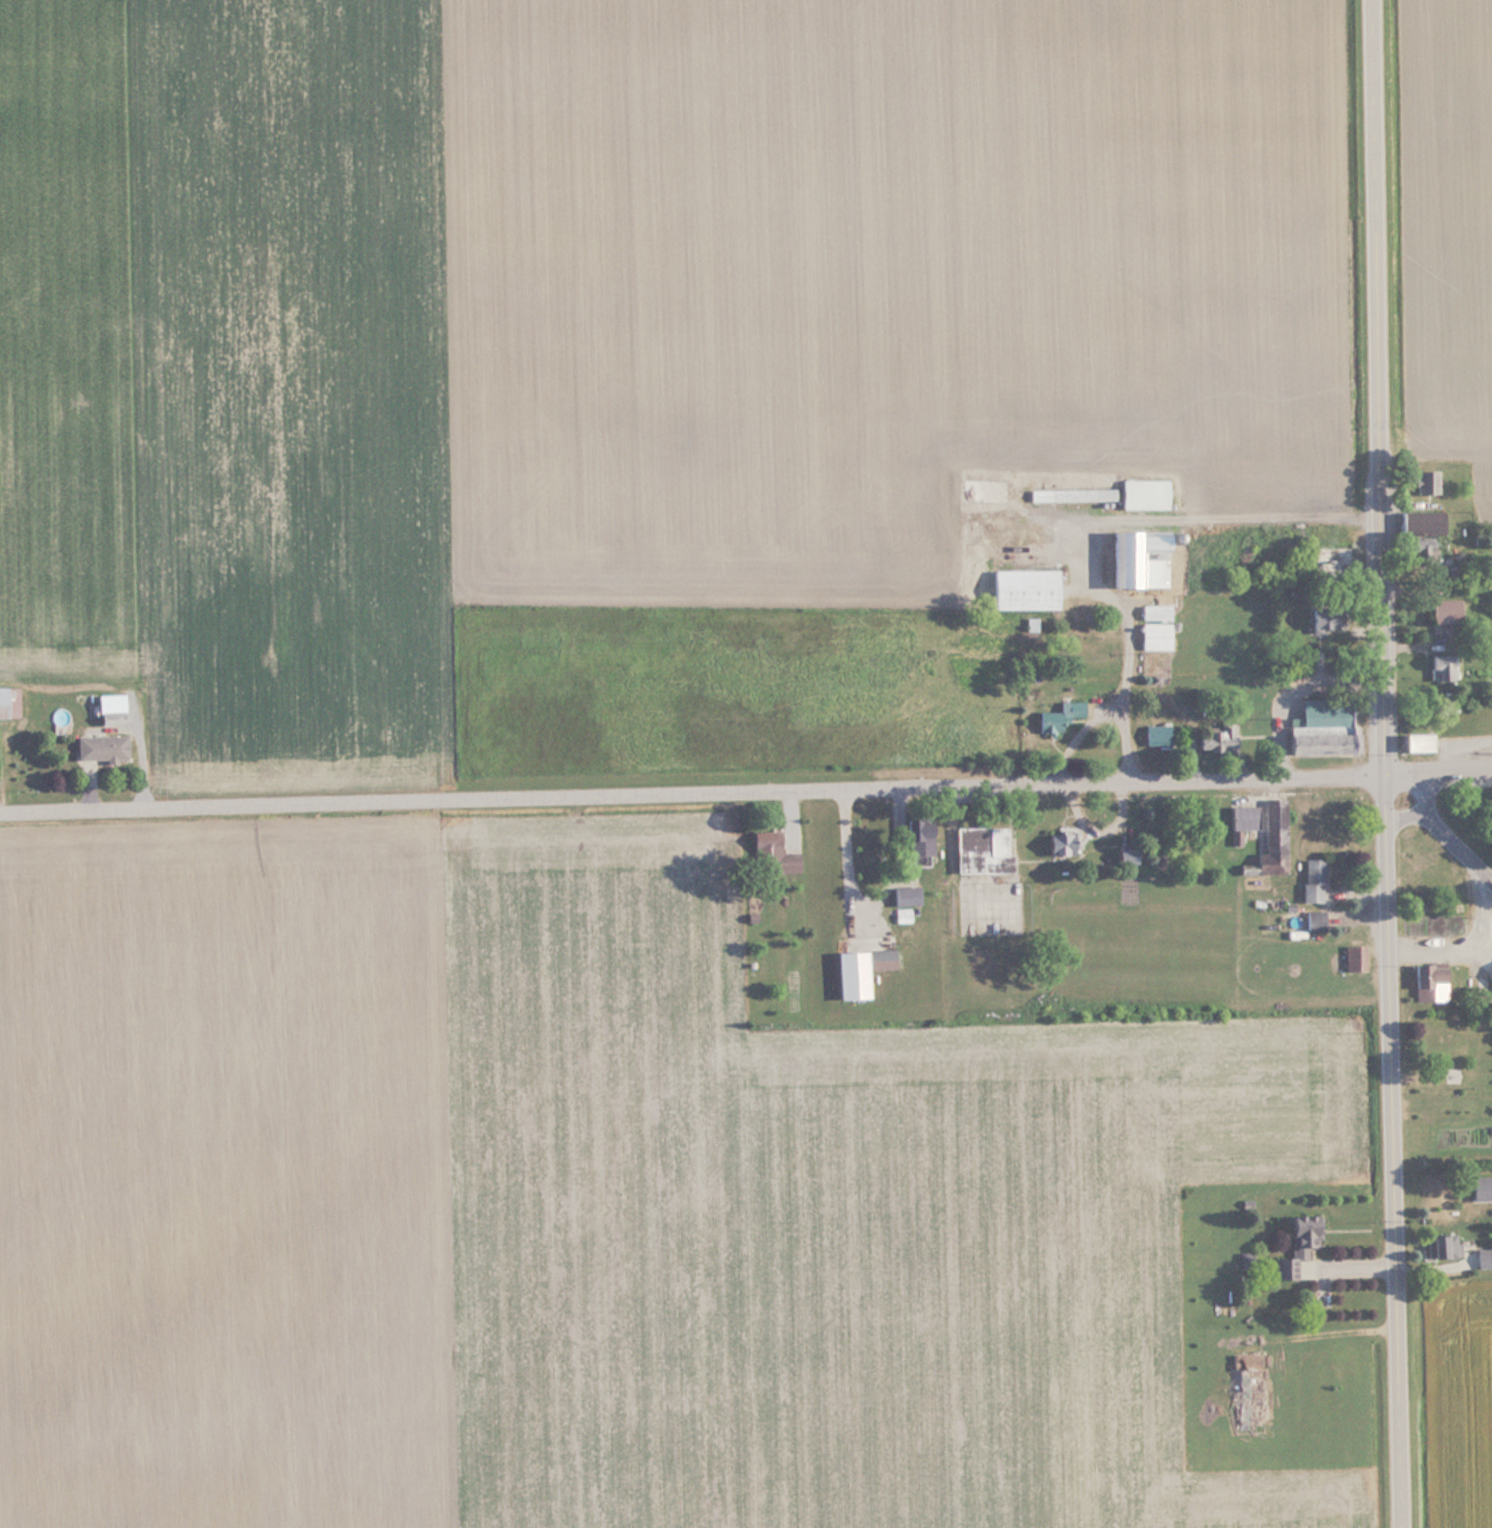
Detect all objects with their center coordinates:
building: (1424, 482)
building: (1142, 493)
building: (1070, 494)
building: (1417, 523)
building: (1418, 546)
building: (1336, 555)
building: (1137, 558)
building: (1021, 588)
building: (1444, 610)
building: (1153, 612)
building: (1318, 617)
road: (1128, 633)
building: (1153, 635)
building: (1439, 667)
building: (8, 702)
building: (107, 702)
building: (1057, 716)
building: (1318, 727)
building: (1156, 734)
building: (1216, 739)
building: (1413, 742)
building: (99, 748)
road: (1385, 763)
road: (745, 793)
building: (1248, 817)
road: (1439, 825)
building: (917, 840)
building: (1056, 844)
building: (979, 850)
building: (1275, 855)
building: (769, 856)
building: (1123, 856)
building: (1311, 880)
building: (904, 895)
building: (900, 914)
building: (1312, 921)
building: (1352, 958)
building: (848, 974)
building: (1489, 976)
building: (1427, 982)
building: (1451, 1075)
building: (1479, 1187)
building: (1294, 1244)
building: (1439, 1246)
building: (1482, 1258)
building: (1242, 1387)

